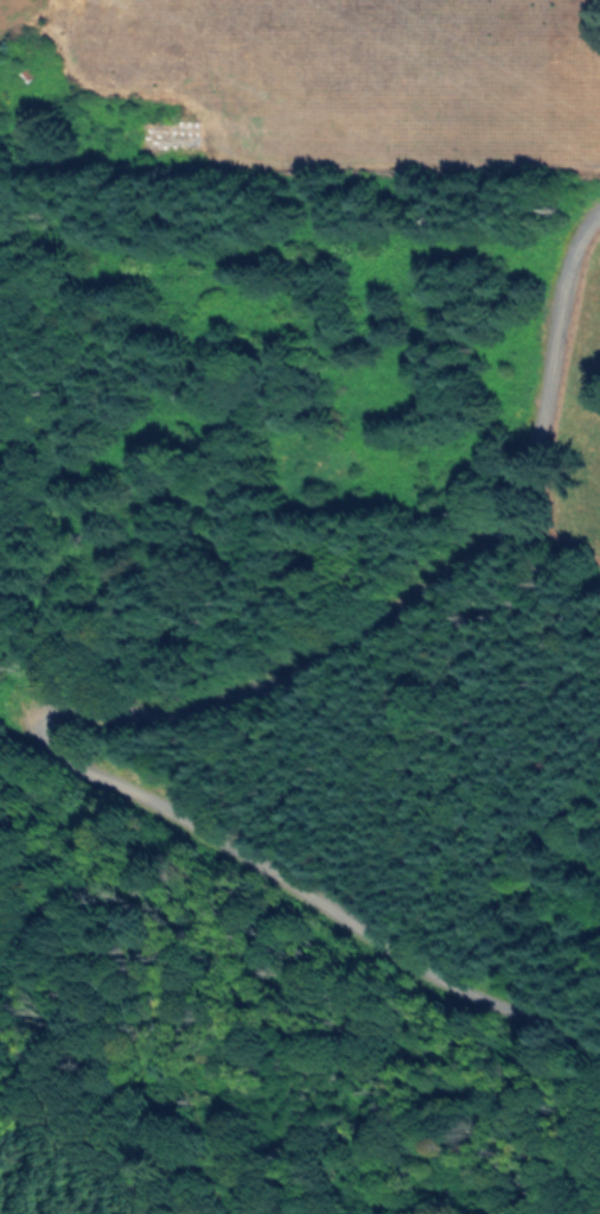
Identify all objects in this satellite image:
road: (428, 172)
road: (139, 722)

